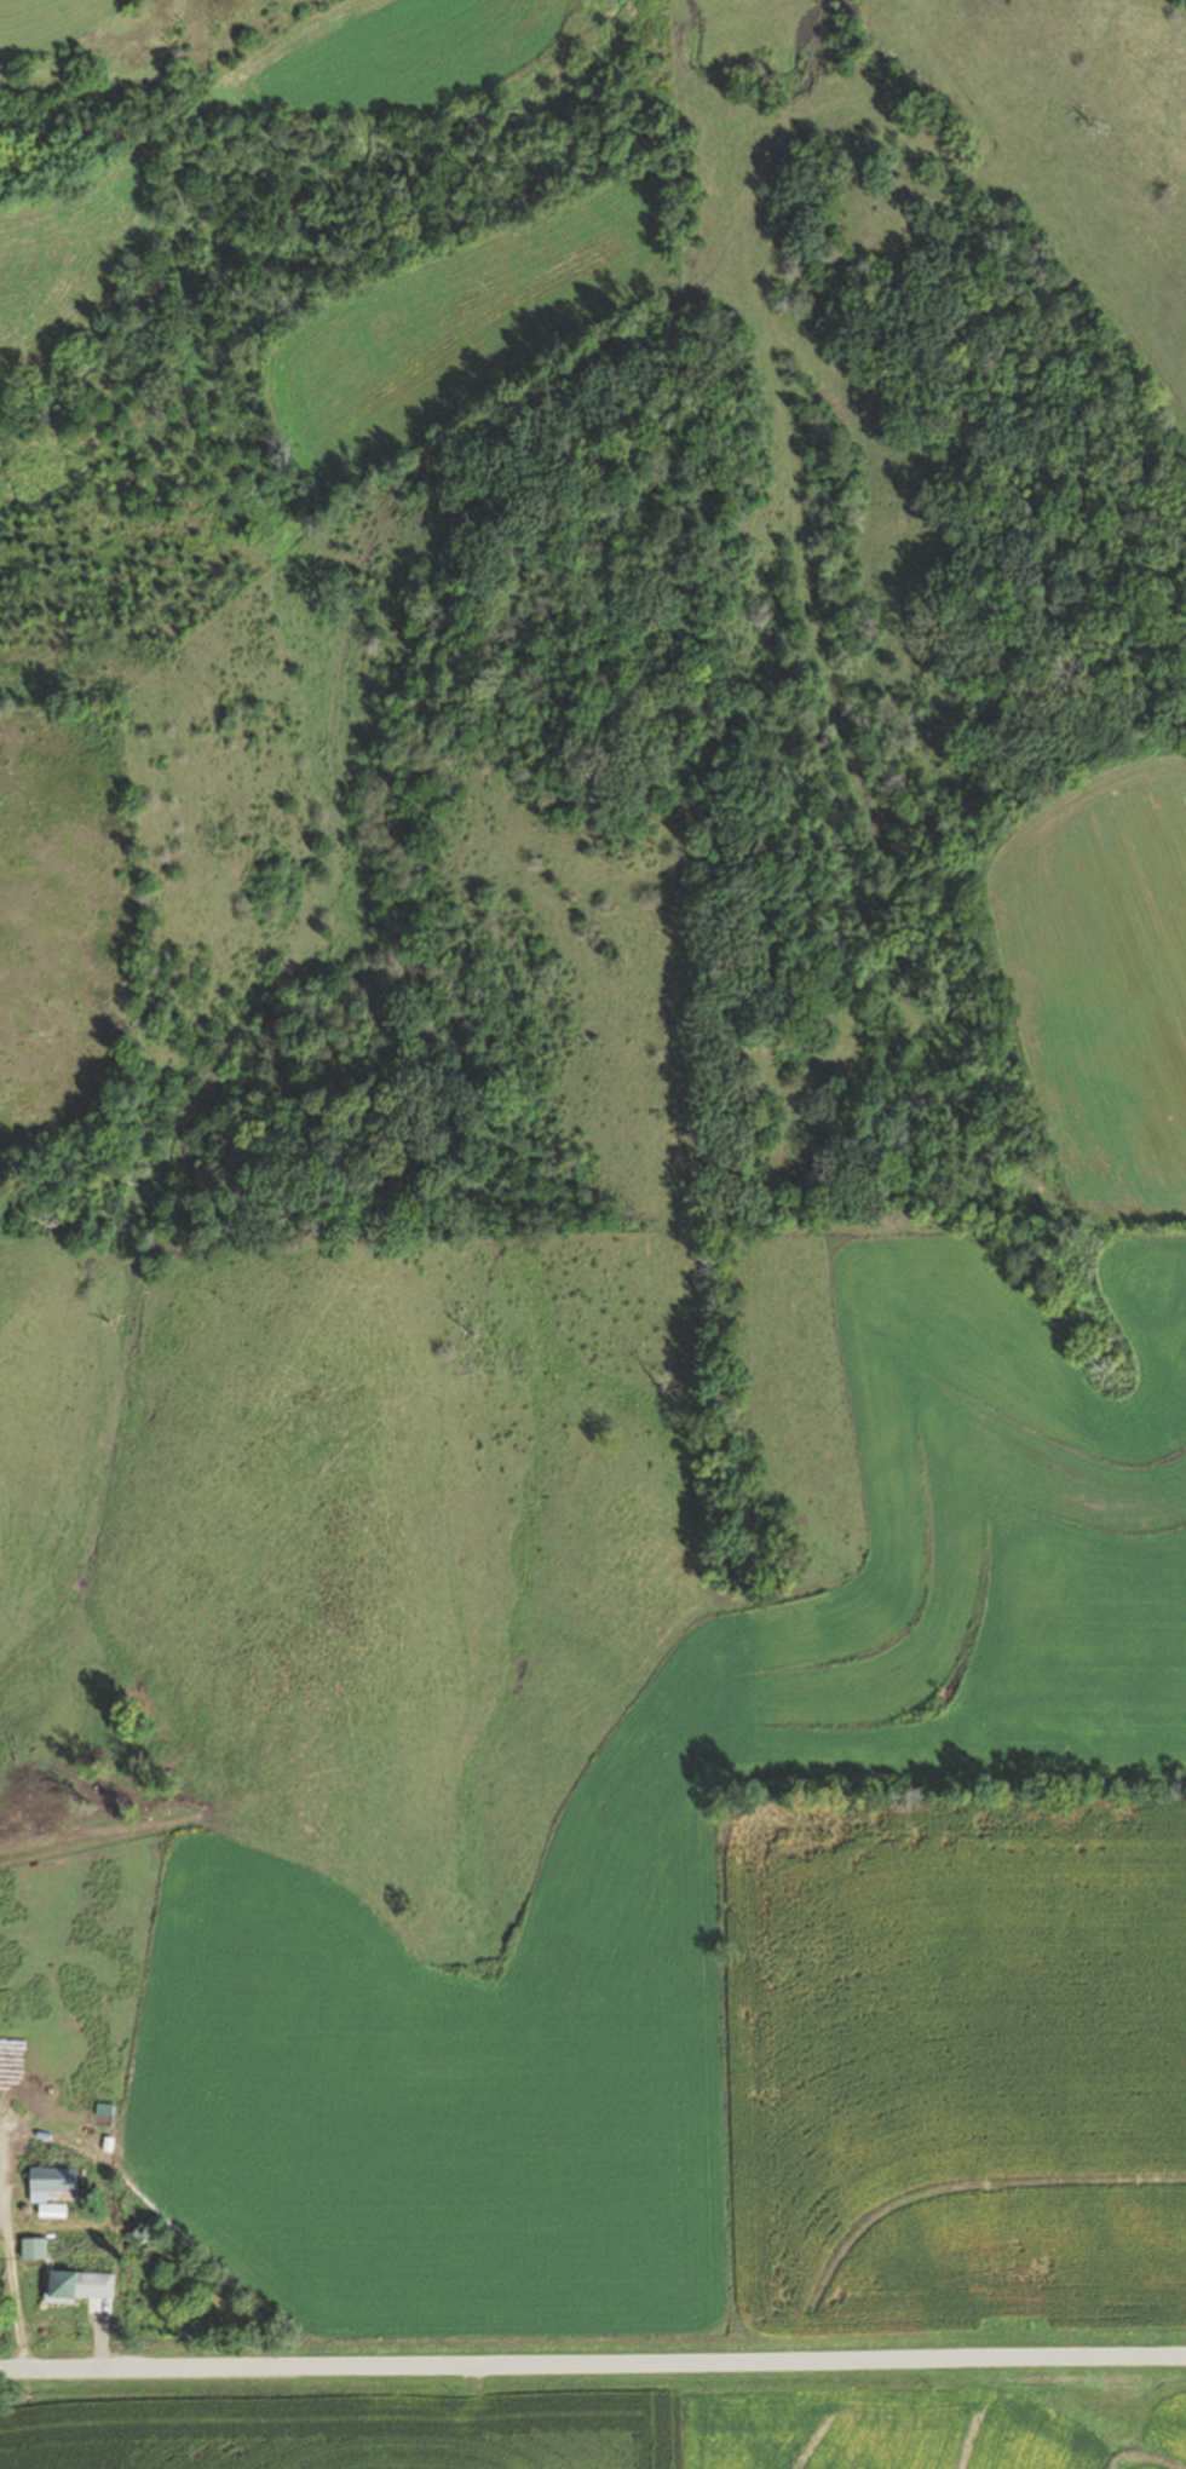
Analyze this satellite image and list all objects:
building: (53, 2182)
building: (34, 2248)
building: (79, 2286)
road: (593, 2352)

